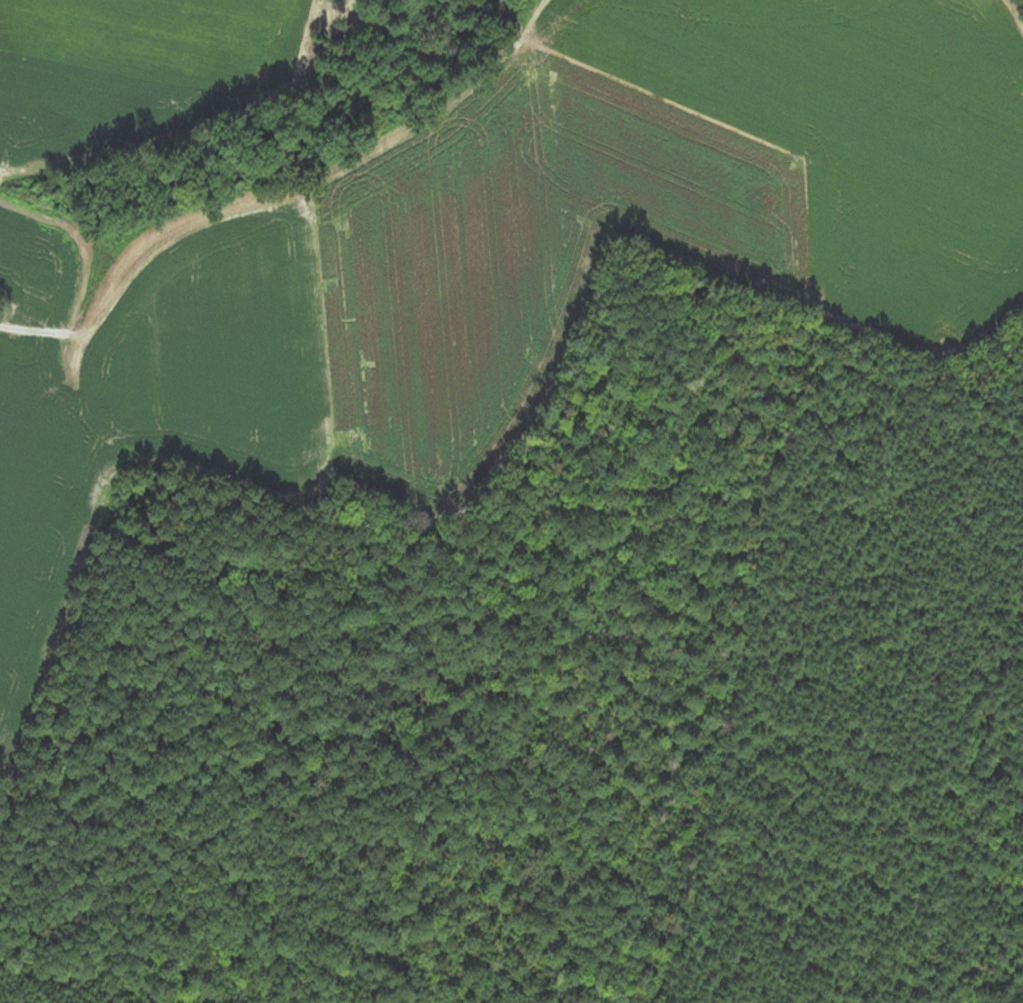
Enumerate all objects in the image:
road: (40, 313)

